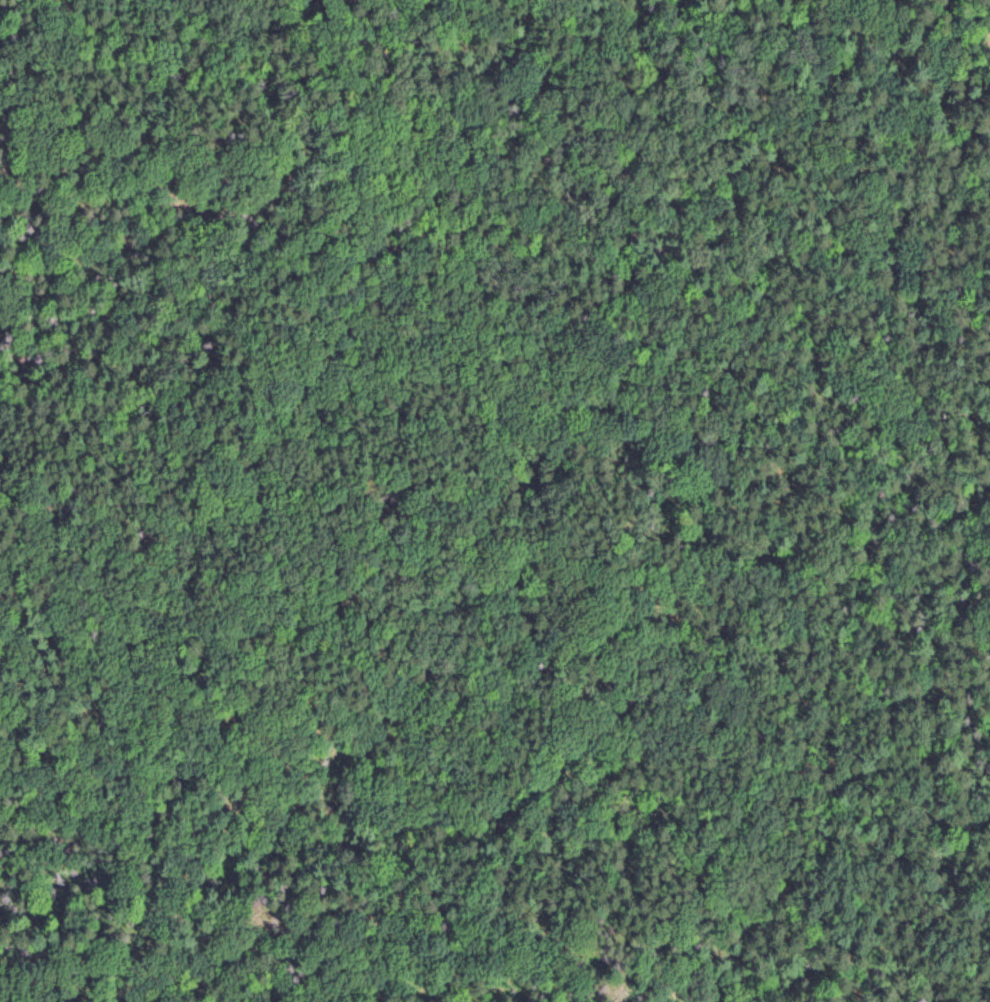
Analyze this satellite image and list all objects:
road: (813, 458)

